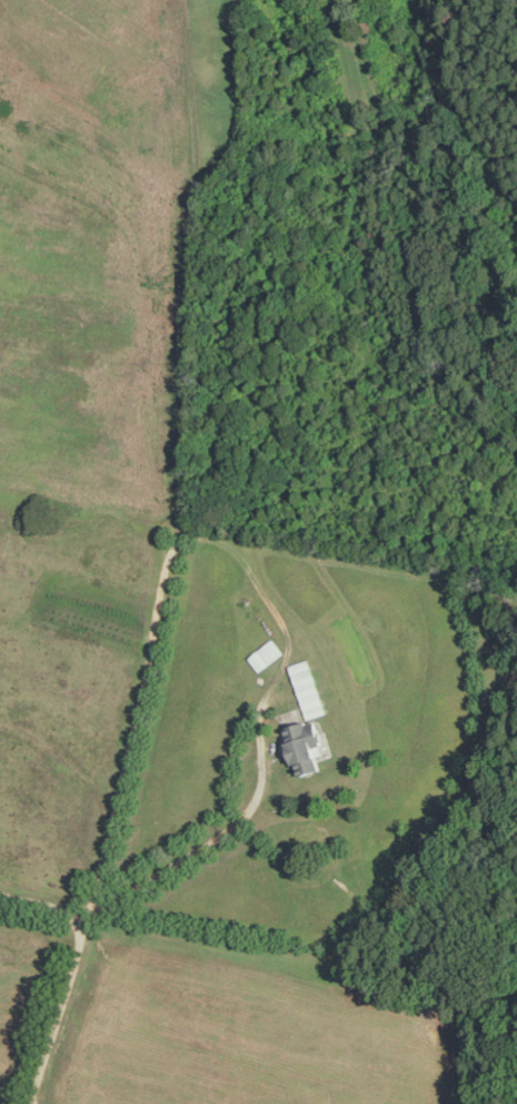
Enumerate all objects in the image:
road: (246, 560)
building: (266, 654)
building: (308, 688)
building: (307, 740)
road: (43, 905)
road: (57, 1012)

